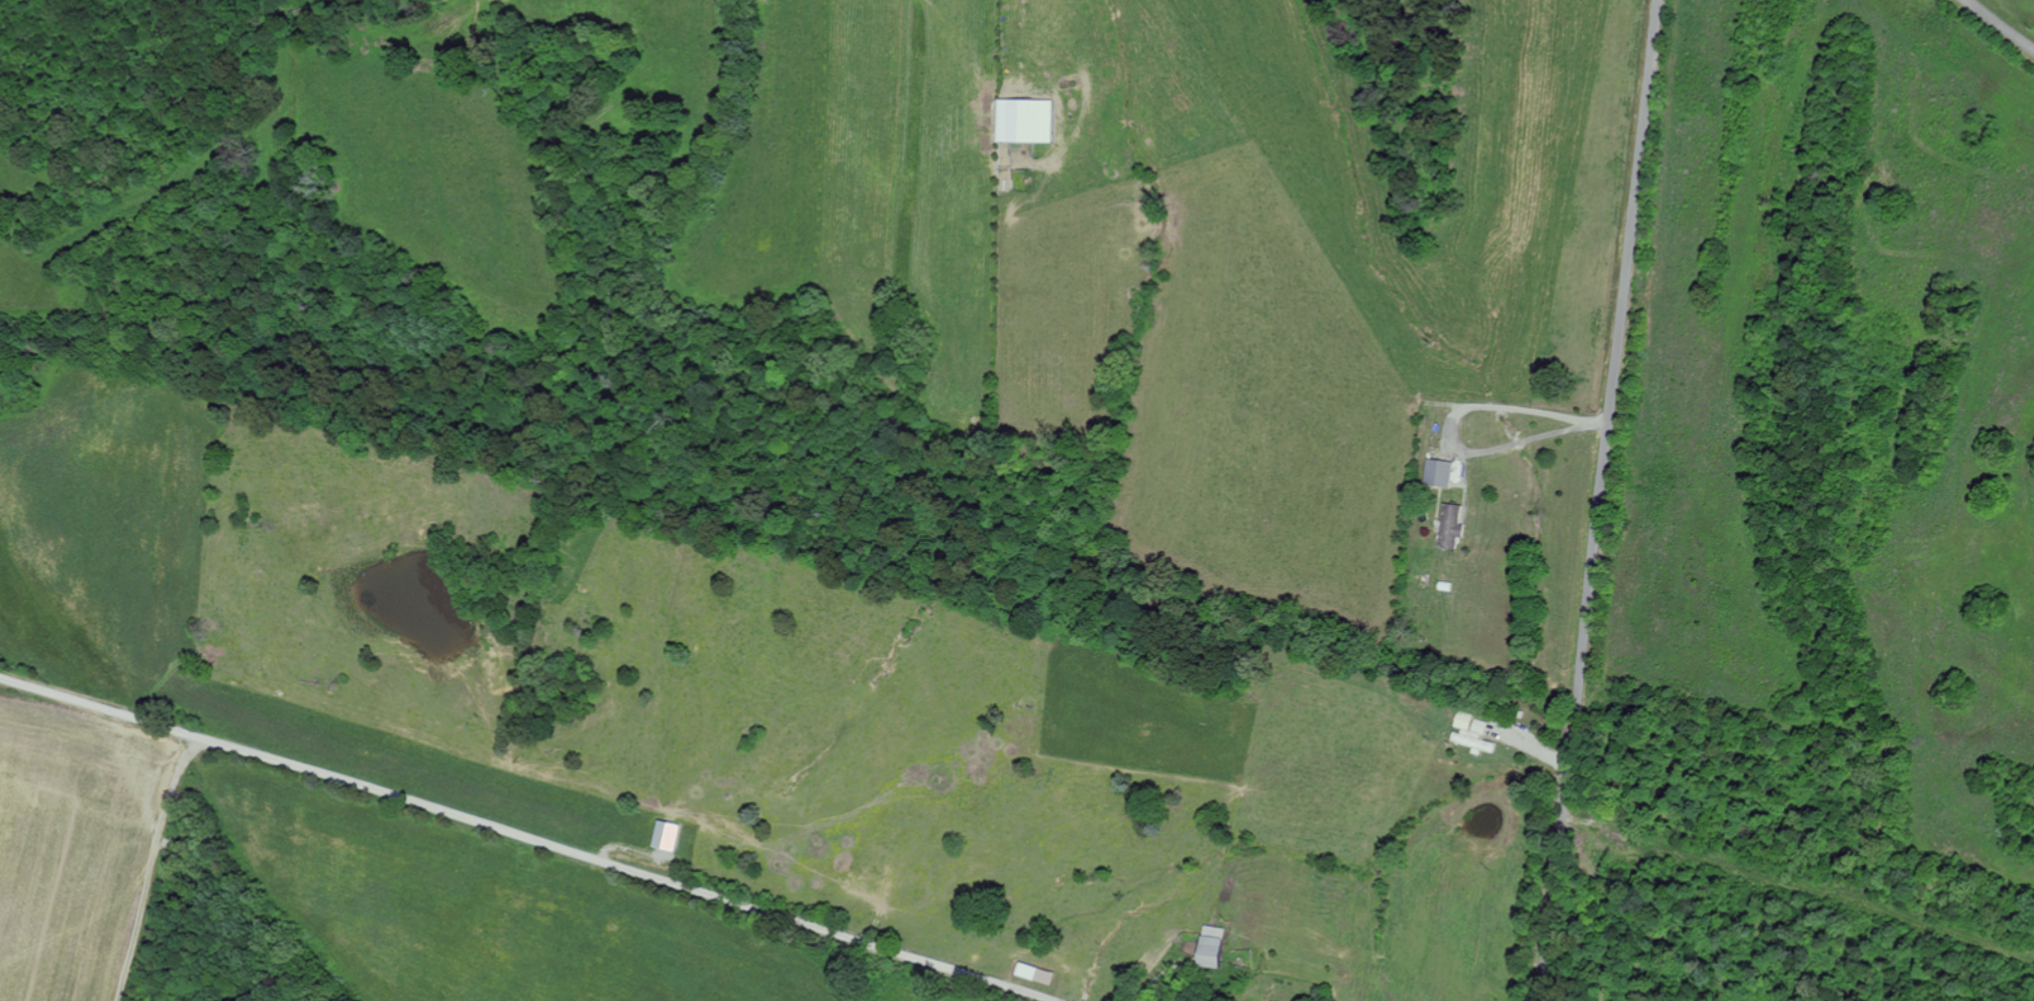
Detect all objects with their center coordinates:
road: (2001, 23)
building: (1032, 120)
building: (1440, 473)
road: (1597, 500)
building: (1455, 527)
building: (675, 836)
road: (525, 838)
road: (131, 862)
building: (1206, 946)
building: (1032, 972)

